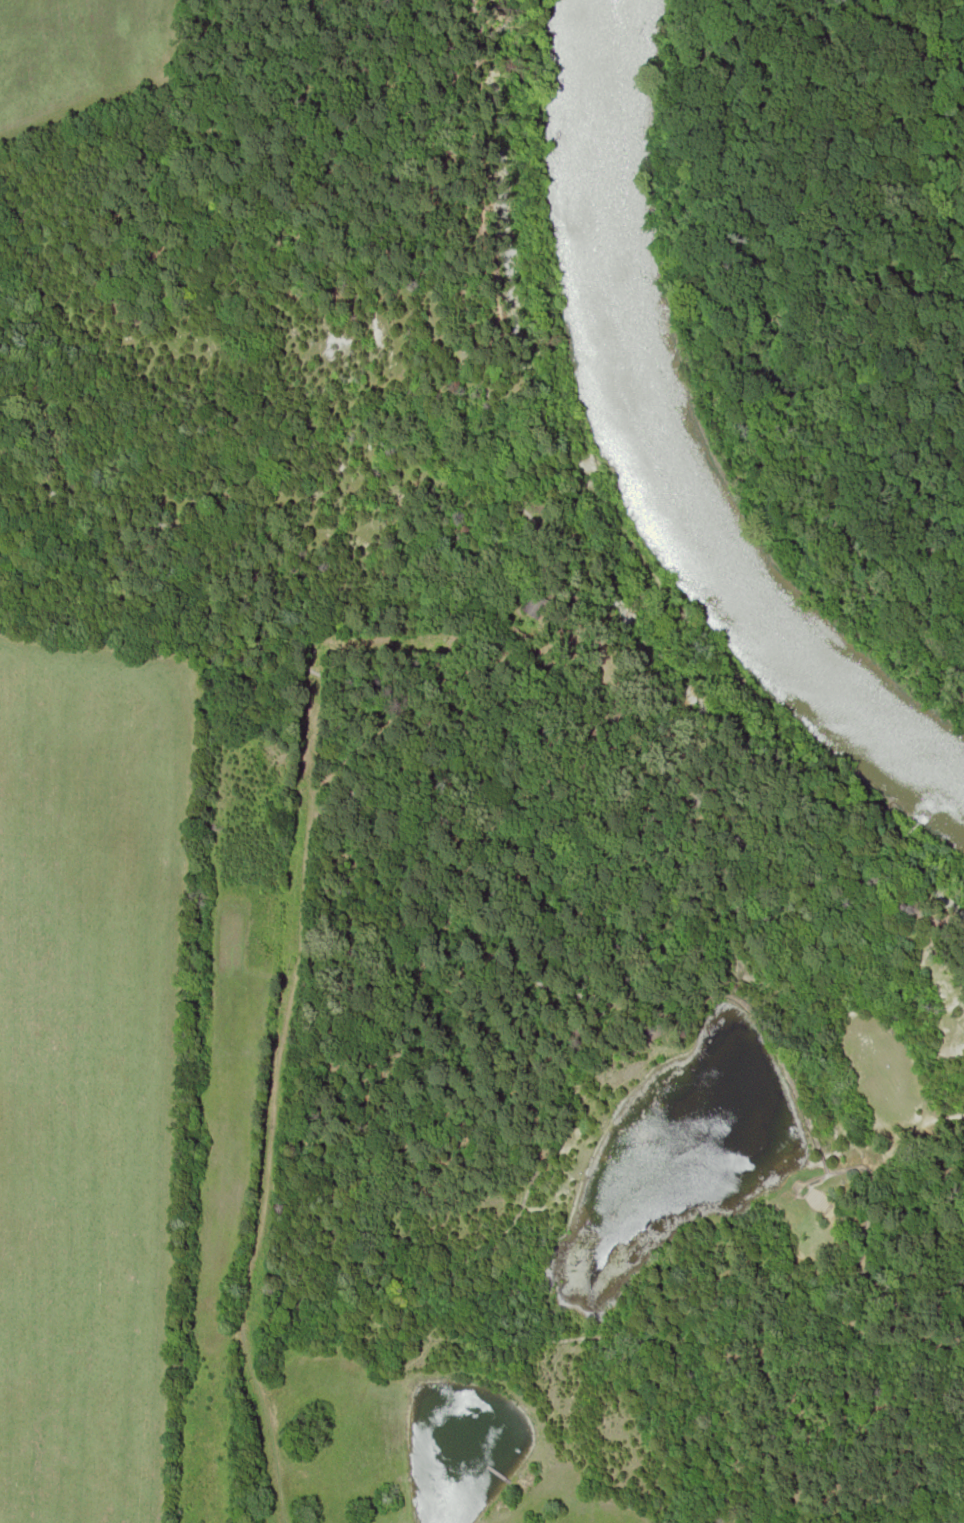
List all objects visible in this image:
road: (285, 1029)

